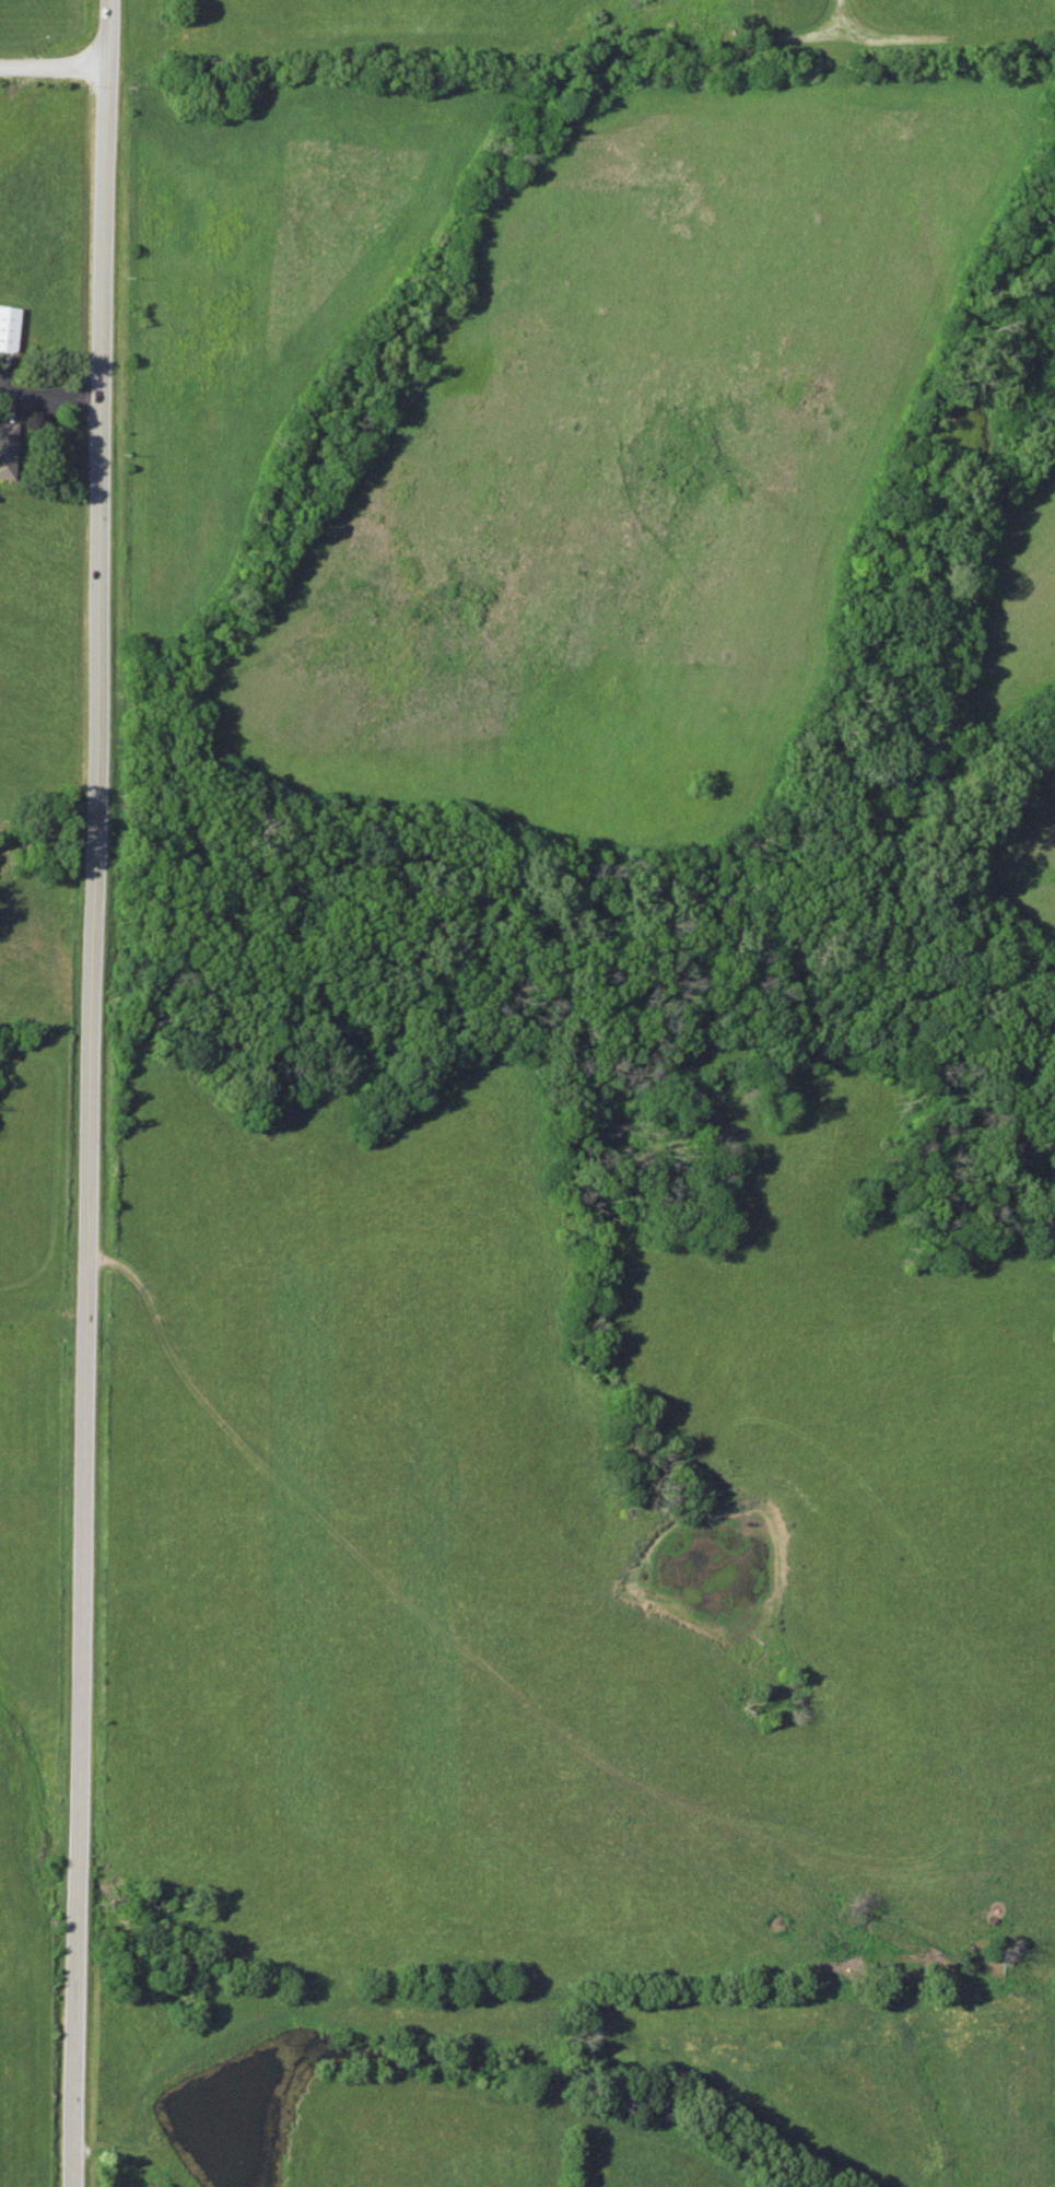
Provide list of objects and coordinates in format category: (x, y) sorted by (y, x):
road: (52, 69)
building: (7, 327)
road: (48, 396)
building: (5, 449)
road: (80, 1092)

